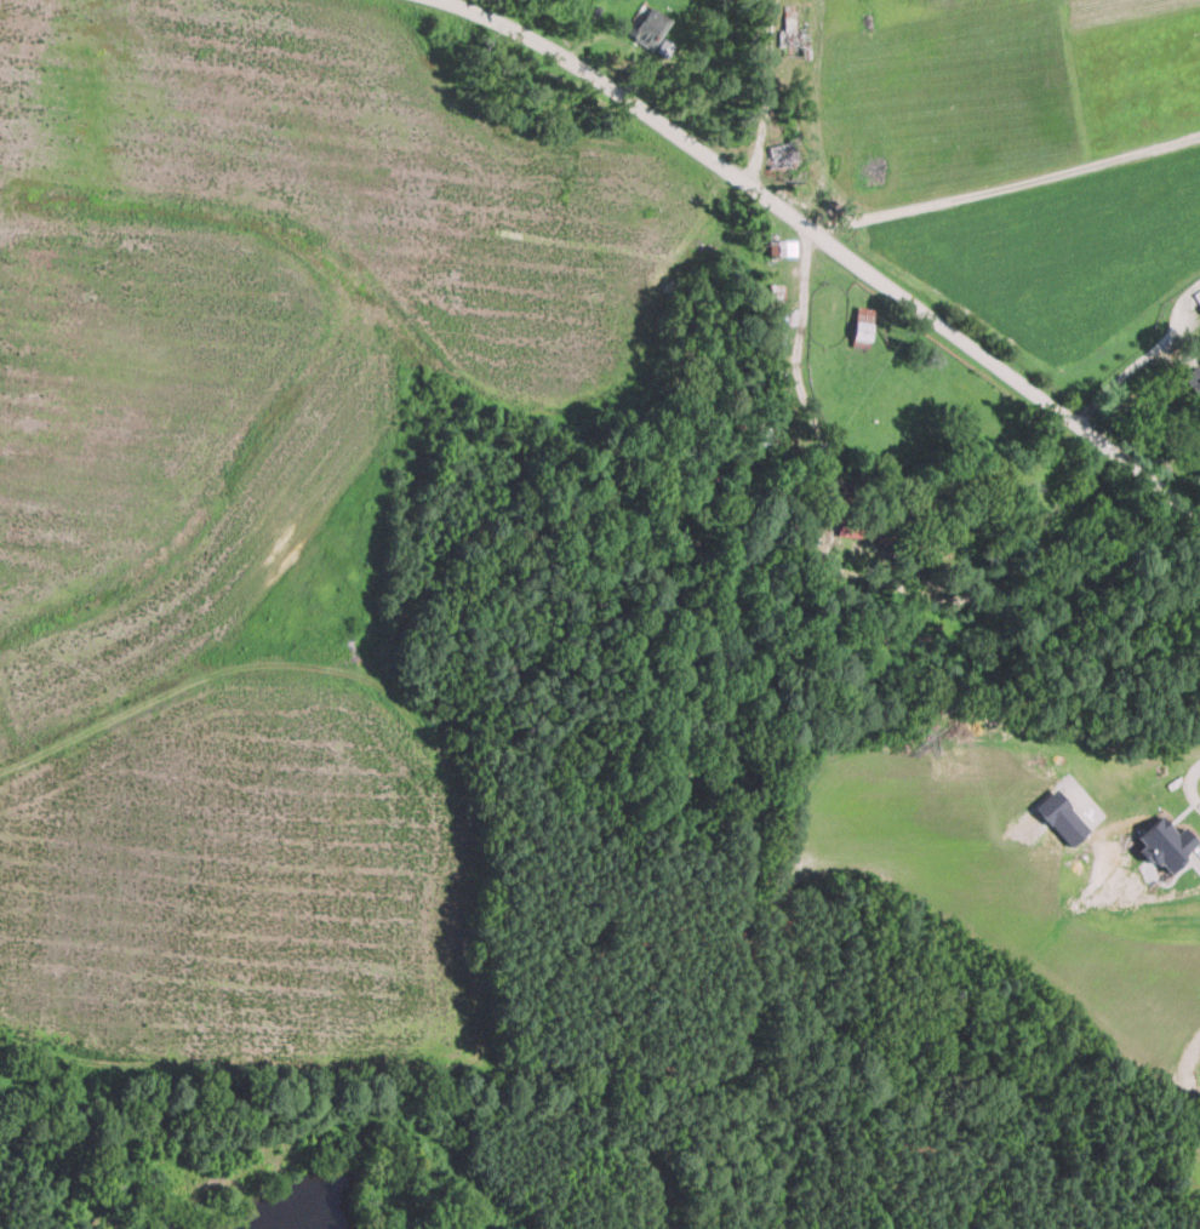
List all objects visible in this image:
building: (648, 25)
road: (1007, 185)
road: (827, 238)
building: (782, 247)
road: (805, 287)
building: (1198, 293)
building: (781, 324)
road: (1149, 353)
building: (1199, 359)
building: (1194, 379)
building: (773, 434)
road: (1192, 781)
building: (1166, 844)

